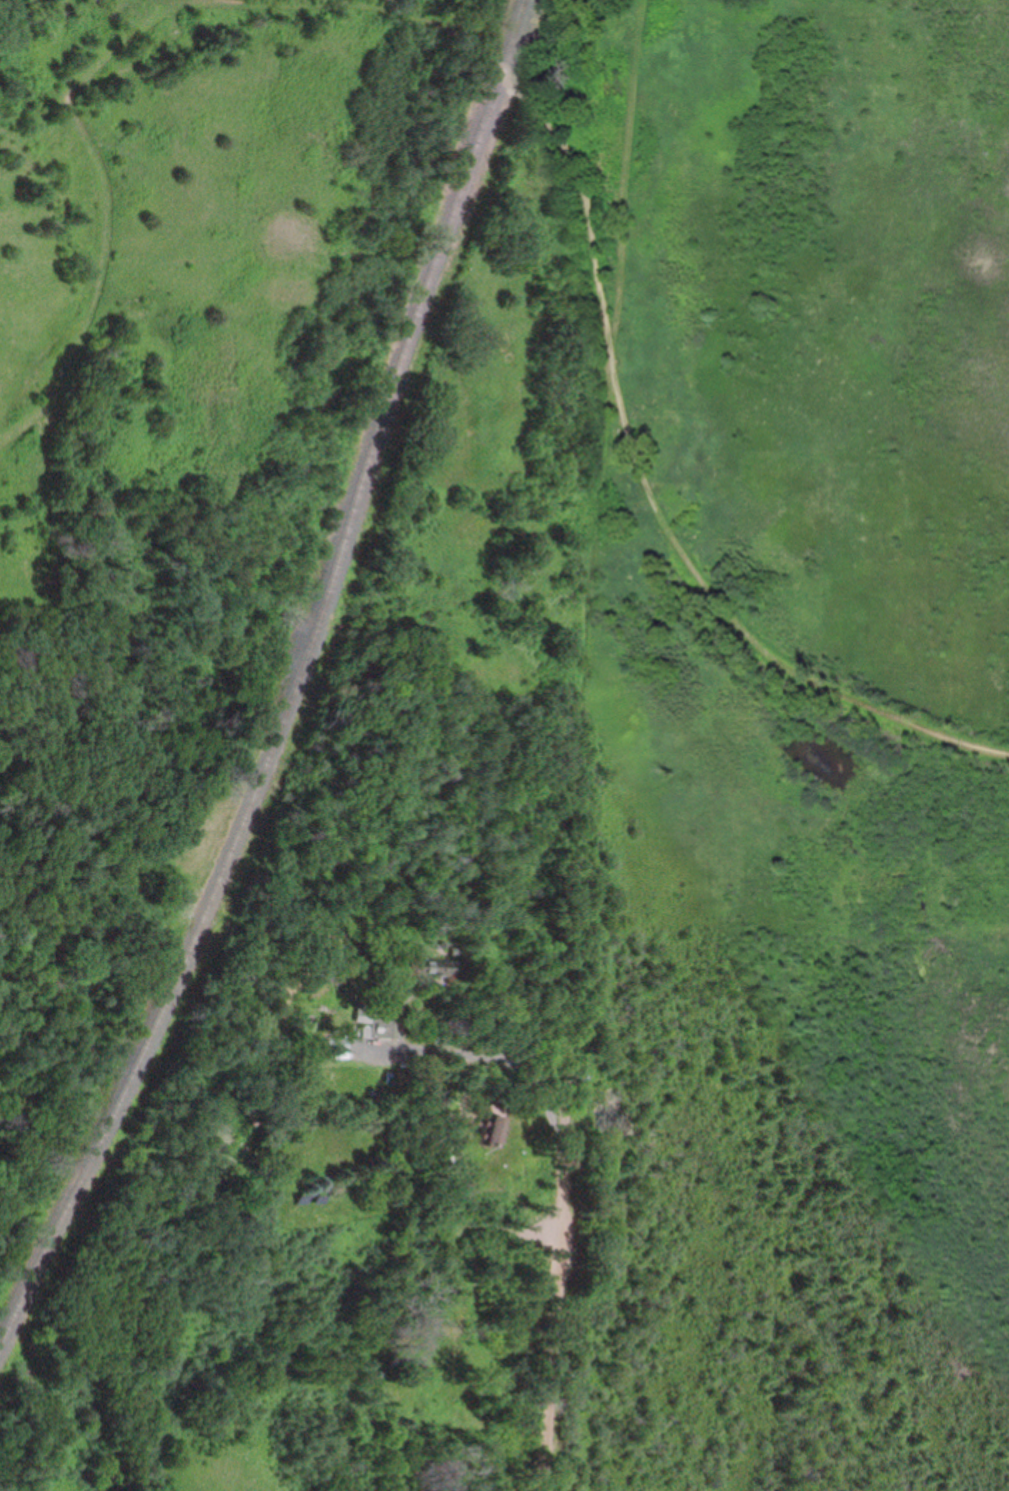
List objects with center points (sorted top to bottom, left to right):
road: (491, 59)
road: (110, 228)
road: (643, 473)
park: (470, 530)
railway: (298, 692)
building: (429, 969)
building: (493, 1129)
road: (24, 1133)
road: (564, 1234)

